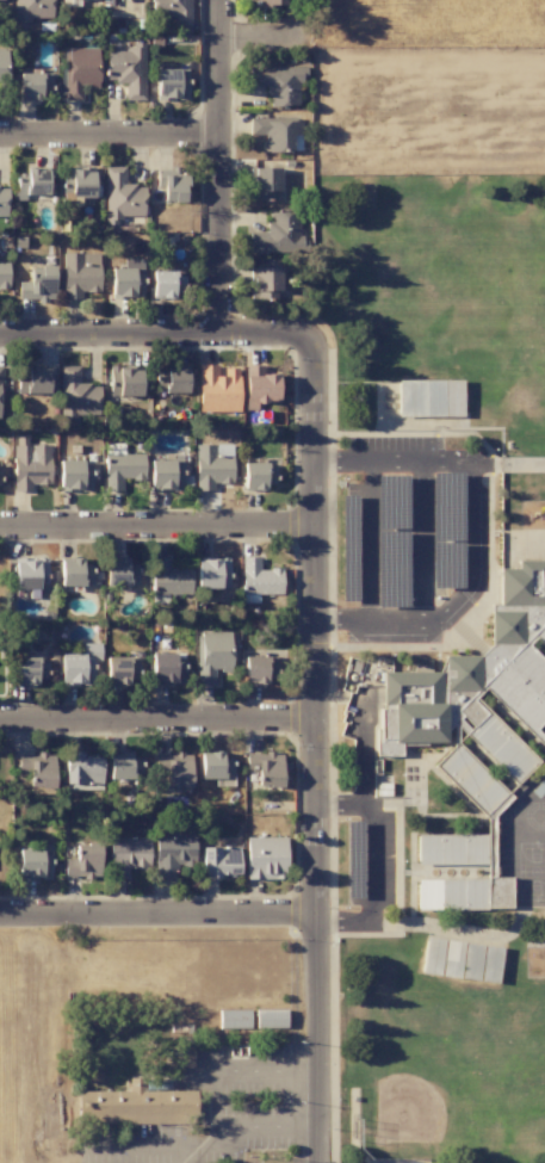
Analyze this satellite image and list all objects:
building: (0, 0)
building: (268, 2)
building: (32, 10)
building: (169, 10)
building: (2, 68)
building: (128, 70)
building: (80, 72)
building: (278, 82)
building: (171, 83)
building: (33, 85)
building: (277, 132)
road: (109, 135)
road: (218, 167)
building: (31, 183)
building: (264, 184)
building: (76, 185)
building: (171, 185)
building: (122, 194)
building: (2, 202)
building: (277, 234)
building: (4, 274)
building: (79, 274)
building: (126, 279)
building: (267, 283)
building: (166, 284)
building: (37, 285)
road: (157, 335)
building: (172, 379)
building: (33, 381)
building: (124, 381)
building: (258, 386)
building: (0, 394)
building: (76, 395)
building: (429, 398)
building: (30, 464)
building: (212, 465)
road: (370, 465)
building: (120, 468)
building: (165, 474)
building: (74, 476)
building: (258, 476)
road: (159, 531)
road: (421, 542)
road: (370, 544)
building: (75, 573)
building: (119, 573)
building: (212, 573)
building: (168, 579)
building: (258, 580)
road: (469, 587)
building: (211, 655)
building: (79, 666)
building: (167, 668)
building: (259, 669)
building: (30, 670)
building: (120, 670)
building: (431, 691)
road: (157, 719)
road: (316, 750)
building: (123, 766)
building: (174, 768)
building: (216, 768)
building: (265, 768)
building: (37, 771)
building: (82, 772)
road: (342, 803)
road: (367, 808)
building: (489, 847)
building: (450, 848)
building: (173, 853)
building: (126, 855)
building: (265, 858)
building: (83, 861)
building: (219, 861)
building: (33, 864)
road: (160, 917)
building: (432, 955)
building: (452, 959)
building: (471, 961)
building: (490, 963)
building: (233, 1019)
building: (270, 1019)
building: (179, 1052)
road: (304, 1070)
road: (289, 1071)
building: (138, 1106)
road: (305, 1127)
road: (199, 1142)

